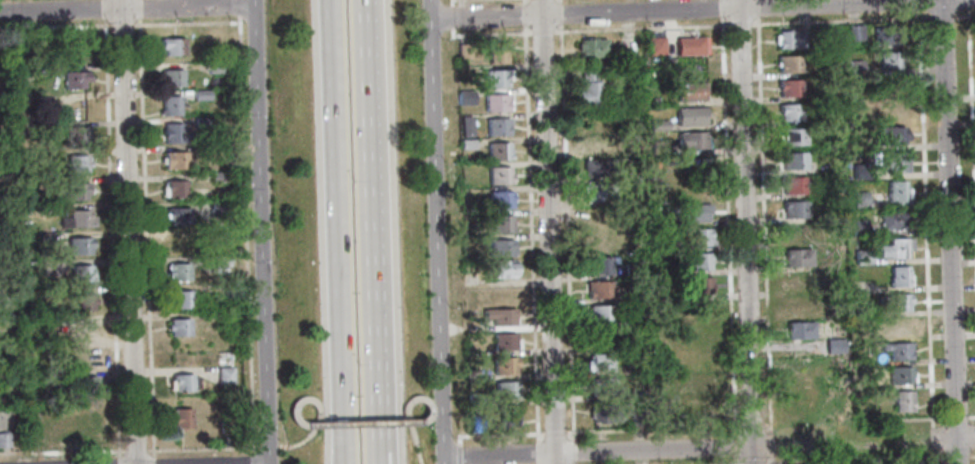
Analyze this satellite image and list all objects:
road: (560, 0)
road: (525, 1)
road: (452, 3)
road: (238, 7)
road: (126, 8)
road: (103, 10)
road: (681, 10)
road: (560, 12)
road: (525, 14)
road: (452, 17)
road: (764, 22)
road: (186, 24)
road: (121, 25)
road: (55, 26)
road: (543, 31)
road: (488, 33)
building: (855, 33)
building: (887, 36)
building: (789, 39)
building: (172, 47)
building: (655, 47)
building: (689, 47)
building: (78, 48)
building: (591, 48)
building: (463, 52)
building: (496, 53)
building: (889, 60)
building: (788, 64)
building: (854, 67)
building: (215, 68)
building: (43, 74)
building: (173, 78)
building: (495, 79)
building: (75, 80)
building: (892, 87)
building: (587, 88)
building: (789, 88)
road: (972, 90)
building: (690, 92)
building: (201, 95)
building: (464, 97)
building: (495, 103)
building: (171, 106)
building: (77, 109)
building: (790, 112)
building: (690, 117)
building: (201, 122)
road: (368, 125)
building: (658, 125)
building: (465, 127)
building: (496, 127)
building: (76, 135)
building: (176, 135)
building: (890, 136)
building: (790, 137)
building: (691, 141)
building: (466, 144)
building: (592, 144)
building: (659, 148)
building: (206, 150)
building: (497, 151)
building: (175, 160)
building: (793, 161)
building: (894, 163)
building: (76, 164)
building: (597, 169)
building: (860, 172)
building: (498, 176)
building: (218, 177)
building: (42, 184)
building: (793, 185)
building: (175, 188)
building: (76, 191)
building: (895, 191)
building: (599, 193)
building: (499, 200)
building: (859, 200)
building: (218, 206)
building: (793, 210)
building: (688, 213)
road: (763, 215)
building: (178, 216)
road: (728, 216)
building: (78, 220)
building: (893, 220)
building: (499, 224)
building: (859, 227)
road: (261, 231)
road: (568, 231)
road: (926, 231)
road: (128, 232)
road: (342, 232)
road: (436, 232)
road: (532, 232)
road: (548, 232)
road: (746, 232)
road: (949, 232)
building: (797, 233)
road: (246, 235)
building: (699, 237)
building: (44, 238)
road: (111, 239)
road: (146, 240)
building: (178, 244)
building: (79, 246)
building: (500, 249)
building: (895, 249)
building: (862, 257)
building: (797, 258)
building: (222, 261)
building: (698, 262)
building: (598, 266)
building: (48, 268)
building: (631, 269)
building: (503, 270)
building: (178, 272)
building: (81, 274)
building: (898, 276)
building: (797, 281)
building: (700, 287)
building: (598, 290)
building: (3, 296)
building: (180, 299)
building: (83, 301)
building: (897, 303)
building: (799, 306)
building: (861, 312)
building: (599, 314)
building: (220, 318)
building: (500, 318)
building: (179, 328)
building: (898, 328)
building: (85, 331)
building: (799, 331)
building: (863, 334)
building: (504, 342)
road: (376, 350)
building: (896, 351)
building: (82, 357)
building: (600, 363)
building: (504, 366)
building: (637, 370)
building: (899, 375)
building: (49, 376)
building: (224, 376)
building: (181, 382)
building: (700, 383)
building: (84, 385)
building: (601, 387)
building: (504, 390)
building: (669, 390)
building: (475, 399)
building: (902, 401)
building: (605, 414)
building: (637, 415)
road: (318, 416)
road: (407, 416)
road: (424, 417)
building: (508, 417)
road: (935, 417)
building: (181, 418)
building: (85, 421)
road: (300, 422)
road: (362, 422)
building: (476, 423)
building: (224, 426)
road: (753, 427)
road: (768, 427)
road: (654, 430)
road: (555, 432)
road: (501, 434)
road: (953, 437)
road: (460, 439)
building: (4, 440)
building: (35, 440)
road: (852, 442)
road: (771, 443)
road: (736, 444)
road: (255, 447)
road: (268, 447)
road: (199, 449)
road: (135, 451)
road: (574, 451)
road: (607, 451)
road: (62, 452)
road: (539, 452)
road: (460, 453)
road: (380, 457)
road: (380, 457)
road: (936, 458)
road: (253, 459)
road: (151, 460)
road: (737, 460)
road: (772, 460)
road: (118, 461)
road: (776, 463)

